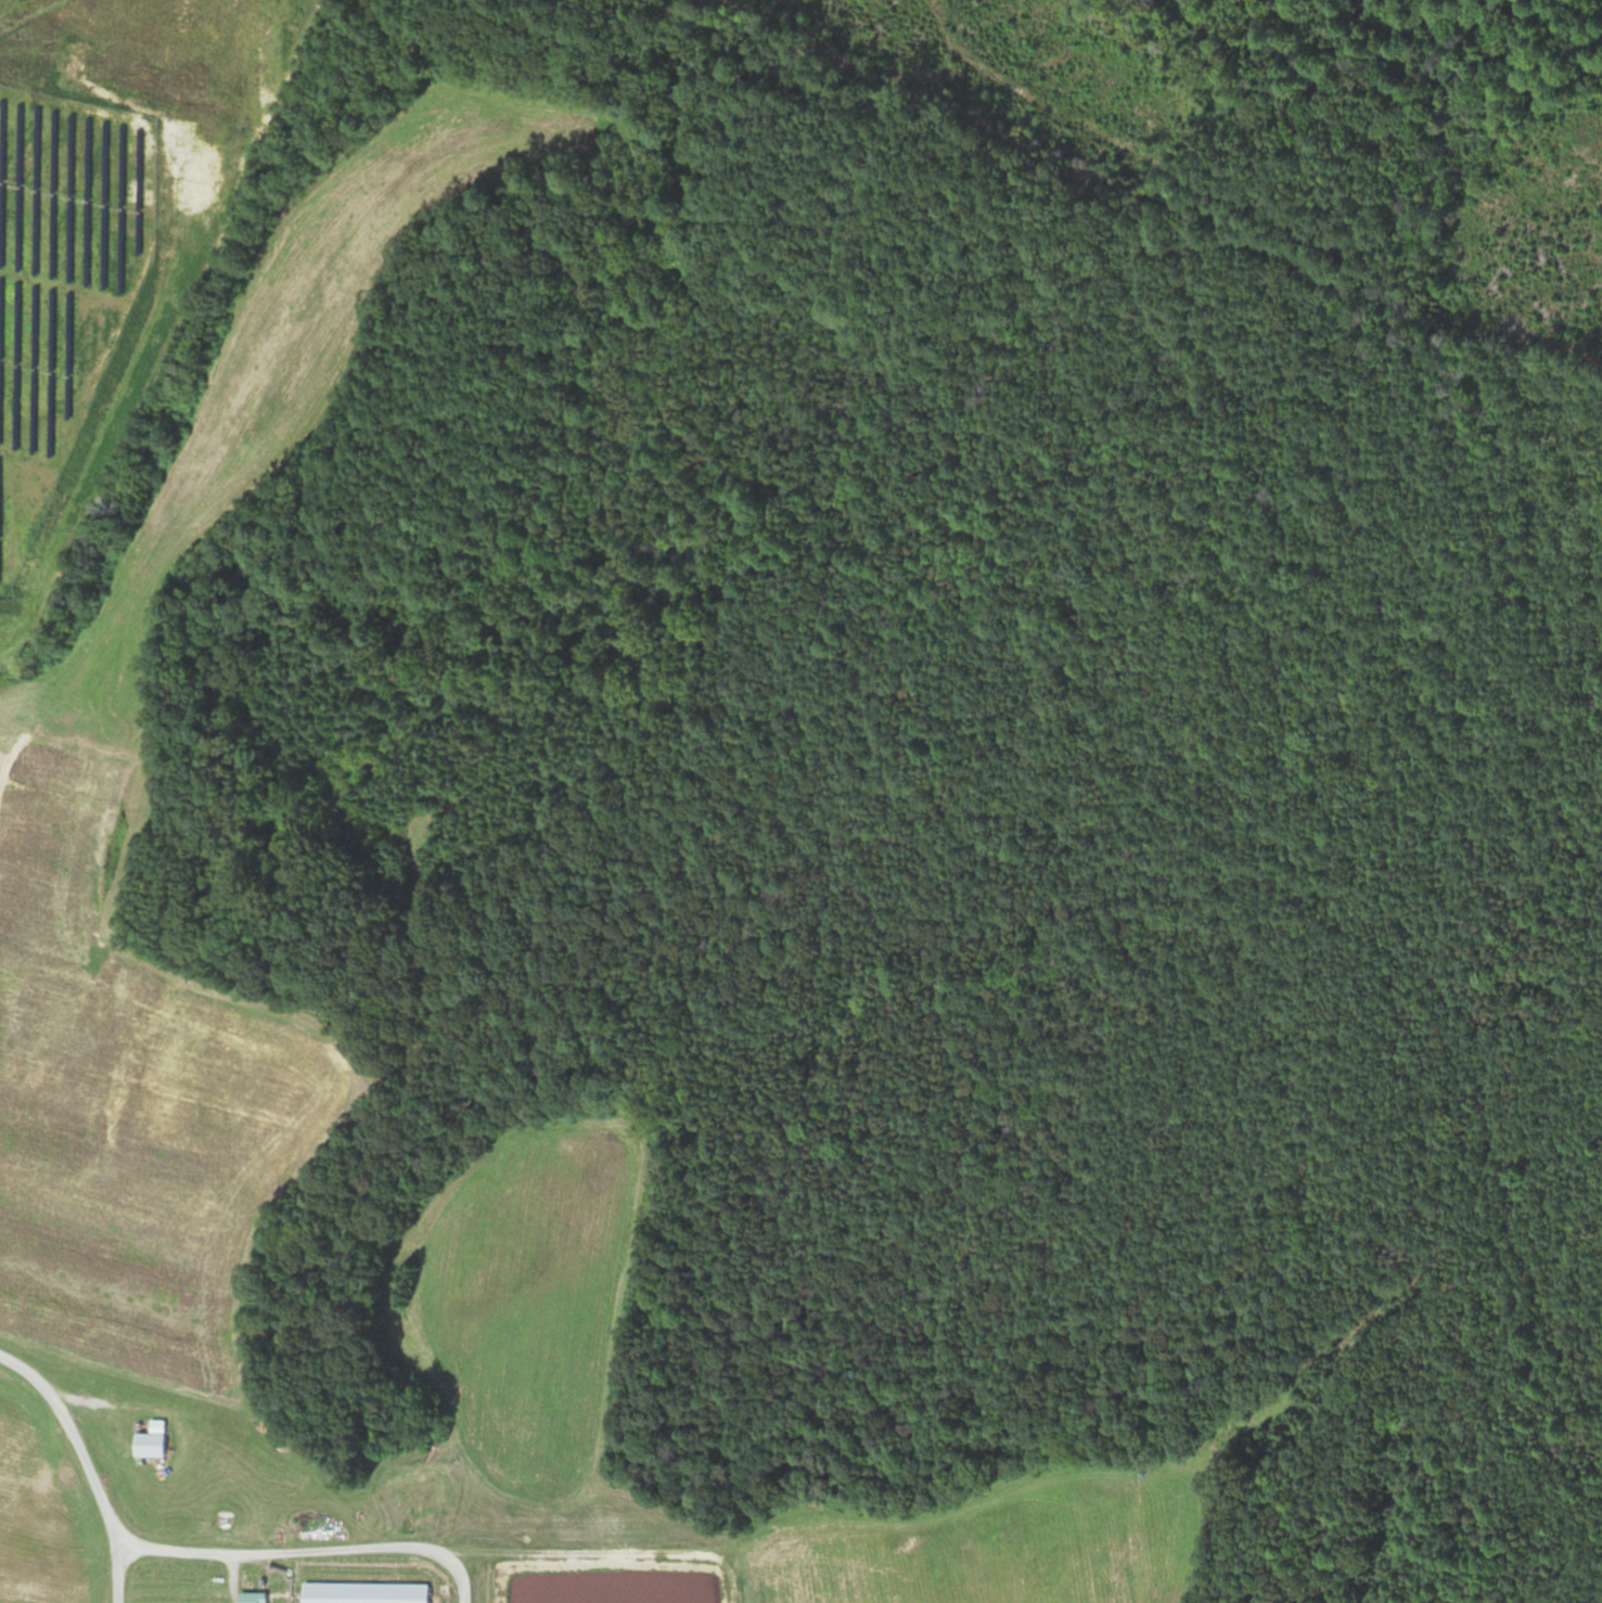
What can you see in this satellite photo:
building: (154, 1440)
road: (85, 1464)
road: (309, 1550)
building: (369, 1593)
building: (254, 1598)

